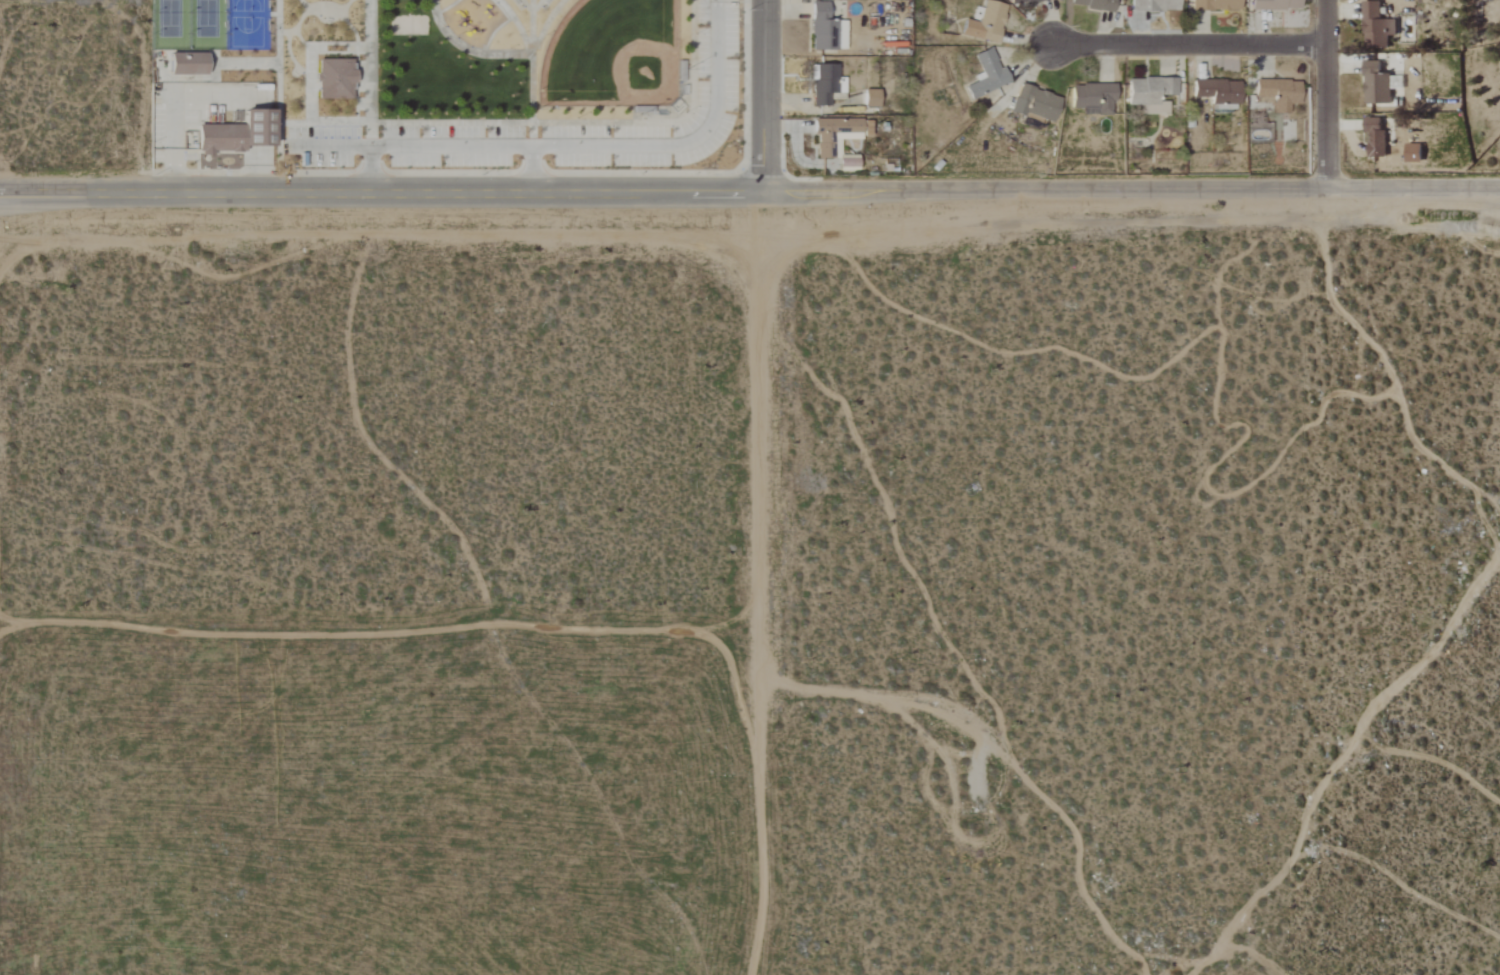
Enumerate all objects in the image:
building: (1025, 1)
building: (1097, 4)
road: (526, 5)
building: (1217, 5)
building: (1277, 5)
road: (537, 6)
building: (1156, 6)
road: (325, 11)
road: (346, 21)
park: (170, 23)
park: (207, 23)
road: (299, 23)
road: (517, 23)
building: (987, 23)
road: (548, 24)
park: (247, 25)
building: (1378, 27)
building: (828, 30)
road: (289, 45)
road: (1197, 46)
road: (468, 50)
park: (612, 56)
road: (532, 60)
building: (190, 64)
building: (989, 75)
building: (334, 78)
park: (478, 82)
building: (825, 84)
building: (1377, 84)
building: (1220, 91)
road: (1325, 93)
building: (1153, 94)
building: (1280, 94)
road: (765, 96)
building: (1095, 98)
building: (872, 99)
building: (1036, 105)
road: (278, 107)
road: (526, 122)
parking lot: (557, 128)
building: (239, 134)
building: (836, 136)
building: (1377, 139)
road: (570, 145)
building: (1416, 154)
building: (850, 163)
road: (366, 168)
road: (532, 168)
road: (750, 192)
road: (785, 584)
road: (394, 628)

